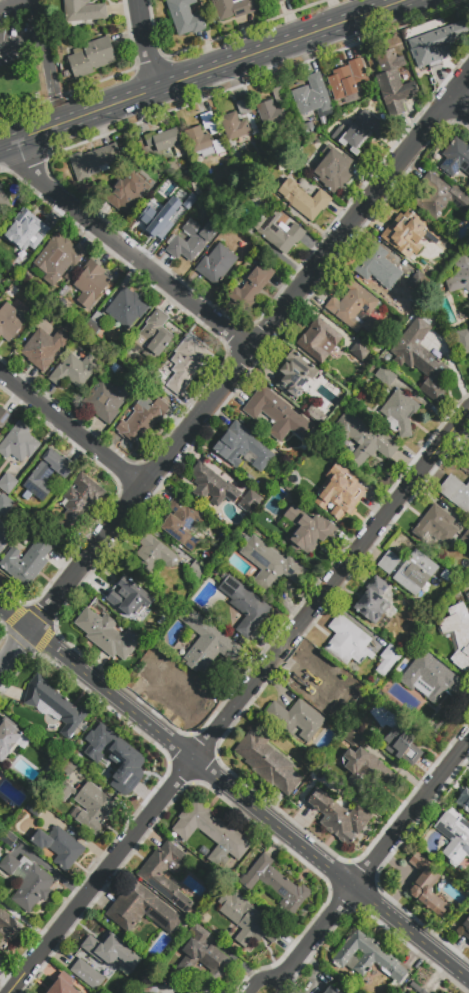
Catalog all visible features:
building: (262, 0)
building: (279, 1)
road: (12, 4)
building: (233, 8)
building: (82, 12)
road: (36, 15)
building: (185, 17)
road: (21, 38)
building: (437, 43)
road: (146, 45)
building: (91, 57)
building: (425, 70)
building: (358, 71)
road: (203, 73)
road: (50, 78)
building: (393, 82)
building: (343, 85)
building: (279, 95)
building: (312, 96)
building: (244, 107)
road: (458, 108)
building: (270, 114)
building: (209, 122)
building: (234, 126)
street lamp: (448, 127)
building: (360, 132)
building: (167, 142)
building: (202, 143)
building: (456, 157)
building: (94, 161)
building: (334, 171)
building: (125, 190)
building: (3, 197)
building: (440, 198)
building: (304, 200)
building: (156, 216)
building: (279, 232)
building: (27, 234)
building: (406, 234)
building: (434, 237)
building: (192, 239)
building: (244, 242)
road: (126, 252)
building: (57, 258)
building: (215, 265)
building: (379, 268)
building: (461, 275)
building: (419, 281)
building: (90, 284)
building: (252, 287)
building: (355, 308)
building: (126, 309)
building: (98, 318)
building: (10, 322)
building: (155, 336)
building: (320, 341)
building: (463, 341)
building: (44, 347)
building: (359, 351)
road: (249, 353)
building: (420, 358)
building: (187, 366)
building: (74, 371)
building: (294, 373)
building: (385, 376)
building: (106, 398)
building: (400, 412)
building: (316, 414)
building: (276, 415)
building: (3, 417)
building: (142, 420)
road: (73, 427)
building: (363, 438)
building: (19, 444)
building: (242, 447)
building: (468, 450)
building: (47, 474)
building: (8, 483)
building: (212, 486)
building: (339, 491)
building: (456, 493)
building: (0, 494)
building: (78, 502)
building: (250, 502)
building: (5, 504)
building: (184, 523)
building: (267, 525)
building: (436, 525)
building: (307, 529)
building: (3, 536)
building: (466, 537)
building: (155, 554)
building: (27, 562)
building: (270, 563)
building: (389, 563)
building: (196, 570)
building: (415, 573)
building: (446, 575)
building: (468, 596)
building: (129, 597)
building: (372, 601)
building: (245, 605)
building: (107, 634)
building: (457, 634)
building: (347, 642)
building: (207, 646)
road: (15, 653)
building: (387, 660)
building: (430, 678)
building: (318, 680)
building: (171, 687)
road: (239, 702)
building: (55, 706)
building: (296, 719)
building: (8, 737)
building: (397, 737)
building: (353, 738)
building: (122, 757)
building: (268, 762)
building: (367, 771)
road: (234, 795)
building: (464, 801)
building: (88, 805)
building: (34, 808)
building: (1, 812)
road: (411, 816)
building: (338, 817)
building: (210, 830)
building: (454, 836)
building: (58, 846)
building: (166, 875)
building: (28, 882)
building: (275, 885)
street lamp: (383, 885)
building: (427, 885)
building: (141, 910)
building: (245, 919)
building: (466, 928)
building: (8, 930)
road: (315, 938)
building: (111, 951)
building: (203, 956)
building: (86, 958)
building: (368, 959)
building: (87, 975)
road: (265, 981)
building: (62, 987)
building: (149, 987)
building: (417, 988)
building: (331, 990)

